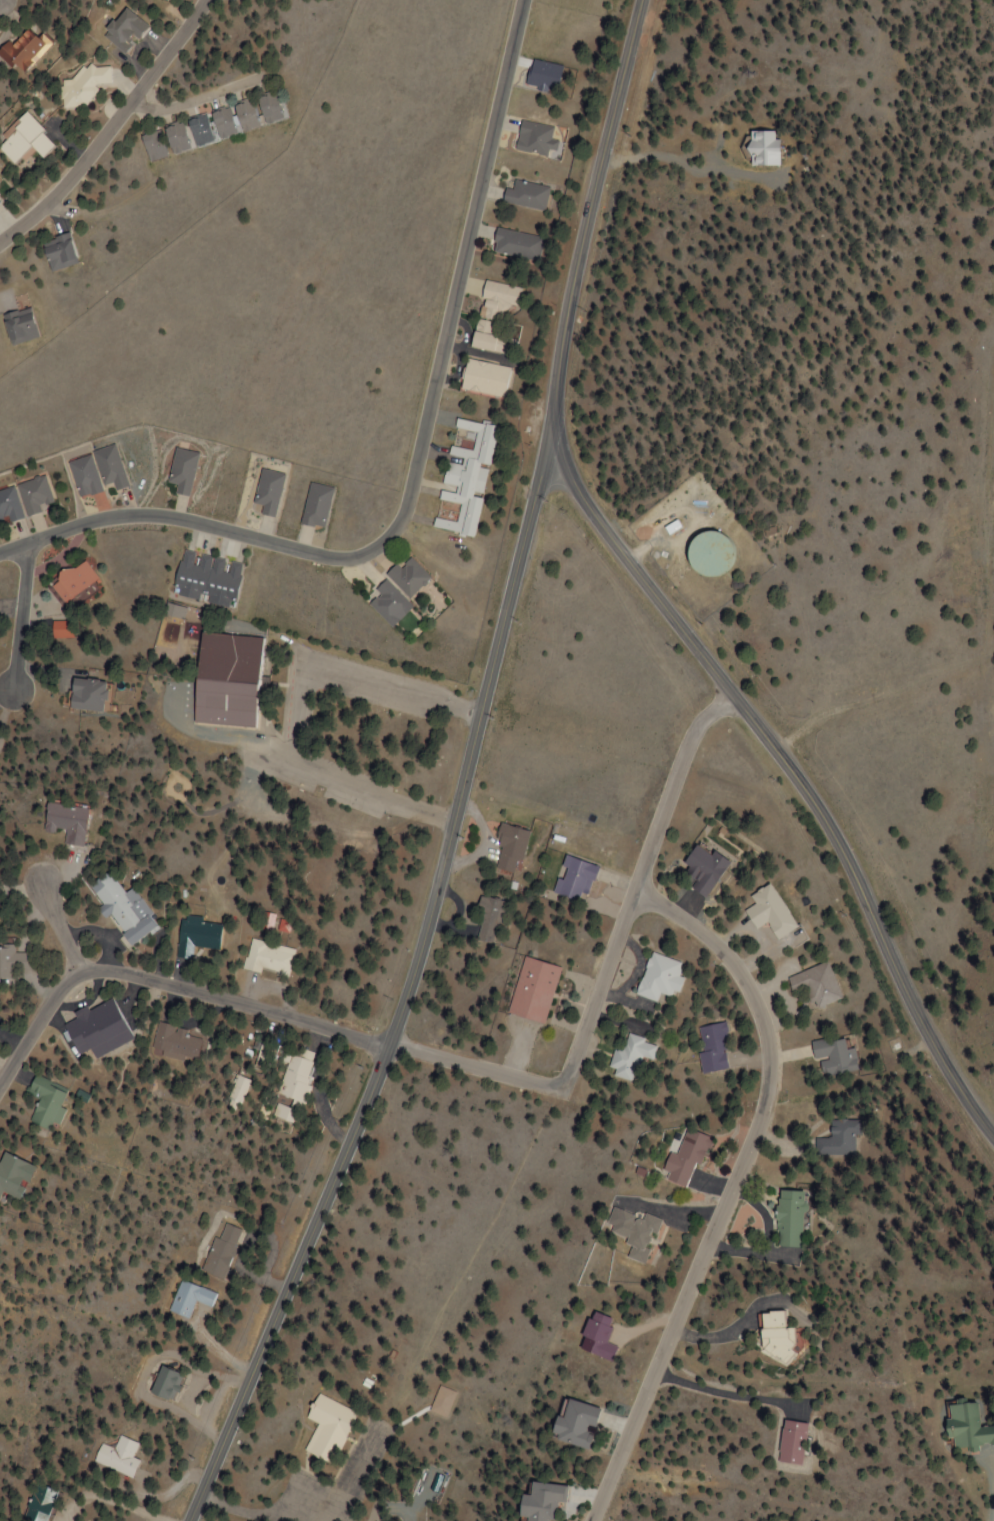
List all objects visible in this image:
building: (124, 30)
building: (22, 49)
building: (88, 82)
road: (199, 97)
road: (111, 128)
building: (176, 137)
building: (535, 138)
building: (24, 140)
building: (527, 195)
building: (0, 201)
building: (518, 244)
building: (58, 252)
building: (492, 312)
building: (18, 325)
building: (482, 378)
building: (111, 467)
road: (415, 469)
building: (183, 470)
building: (86, 476)
building: (463, 477)
building: (269, 492)
building: (37, 494)
building: (11, 504)
building: (316, 505)
building: (707, 554)
building: (407, 577)
building: (210, 579)
building: (76, 581)
road: (654, 600)
building: (387, 602)
road: (25, 616)
building: (66, 629)
building: (227, 680)
building: (89, 694)
building: (67, 821)
building: (511, 849)
building: (700, 868)
building: (574, 879)
building: (124, 908)
building: (764, 910)
building: (489, 920)
road: (62, 926)
building: (197, 936)
building: (271, 957)
building: (17, 962)
road: (607, 967)
building: (655, 976)
road: (410, 980)
building: (812, 984)
building: (533, 990)
road: (237, 1003)
road: (37, 1027)
building: (97, 1030)
building: (175, 1044)
building: (709, 1046)
building: (628, 1056)
building: (831, 1056)
building: (292, 1080)
building: (47, 1102)
building: (839, 1138)
building: (685, 1159)
building: (13, 1175)
road: (734, 1190)
building: (791, 1218)
building: (638, 1233)
building: (219, 1250)
building: (187, 1298)
building: (774, 1336)
building: (598, 1337)
building: (161, 1383)
building: (444, 1402)
building: (573, 1424)
building: (967, 1426)
building: (324, 1427)
building: (791, 1442)
building: (114, 1456)
building: (539, 1501)
building: (36, 1503)

